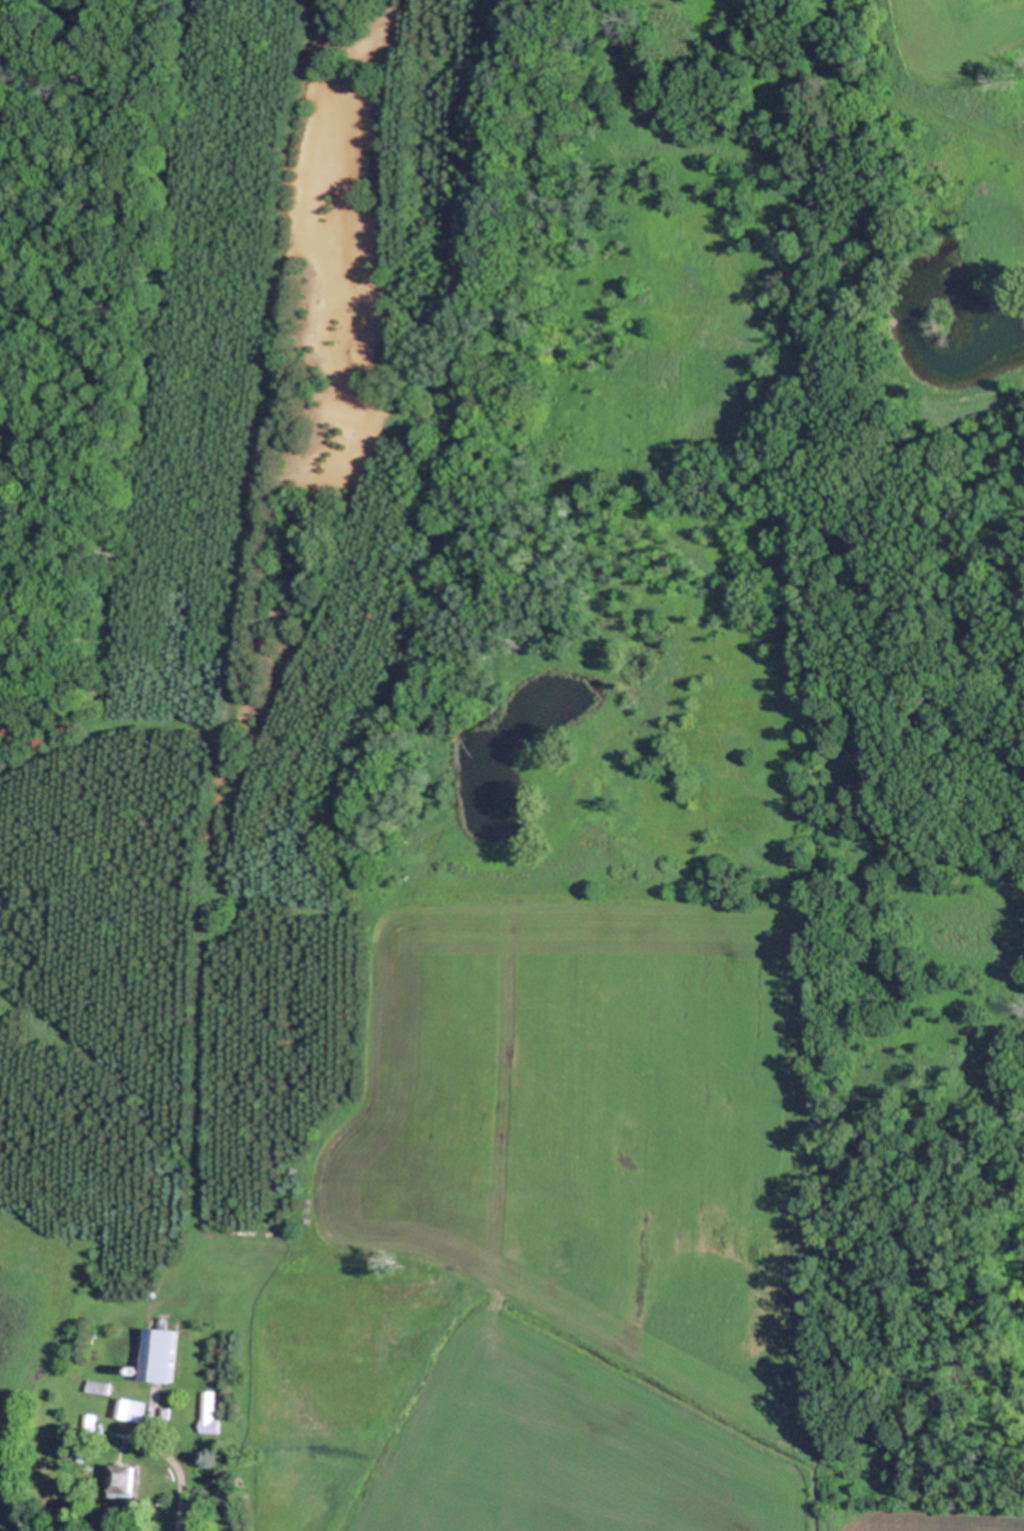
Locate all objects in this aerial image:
building: (751, 57)
building: (968, 705)
building: (972, 720)
building: (865, 1035)
building: (84, 1269)
building: (159, 1352)
building: (129, 1368)
building: (97, 1386)
building: (129, 1408)
building: (163, 1412)
building: (207, 1413)
building: (87, 1425)
road: (172, 1468)
building: (119, 1481)
building: (64, 1483)

